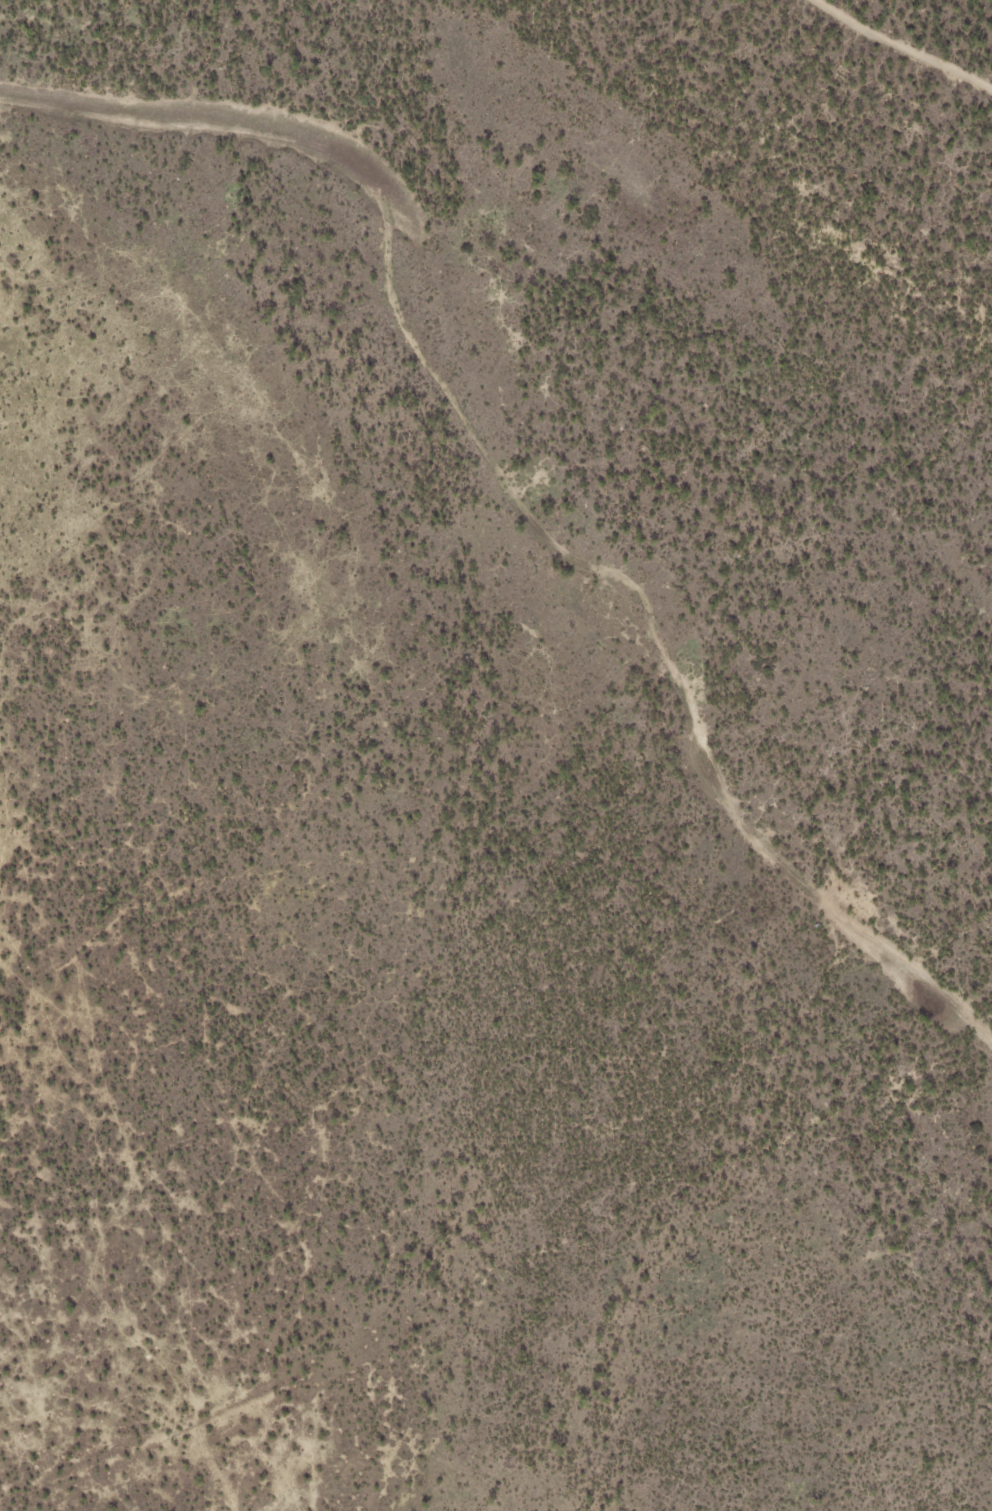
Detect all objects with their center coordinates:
road: (895, 45)

